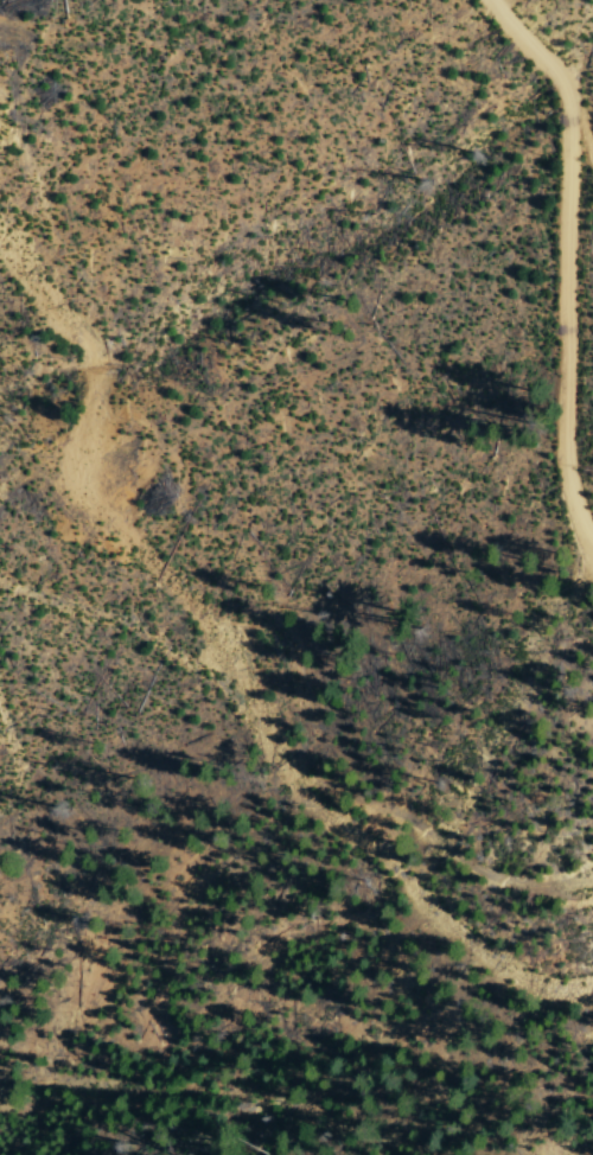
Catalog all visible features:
road: (568, 266)

